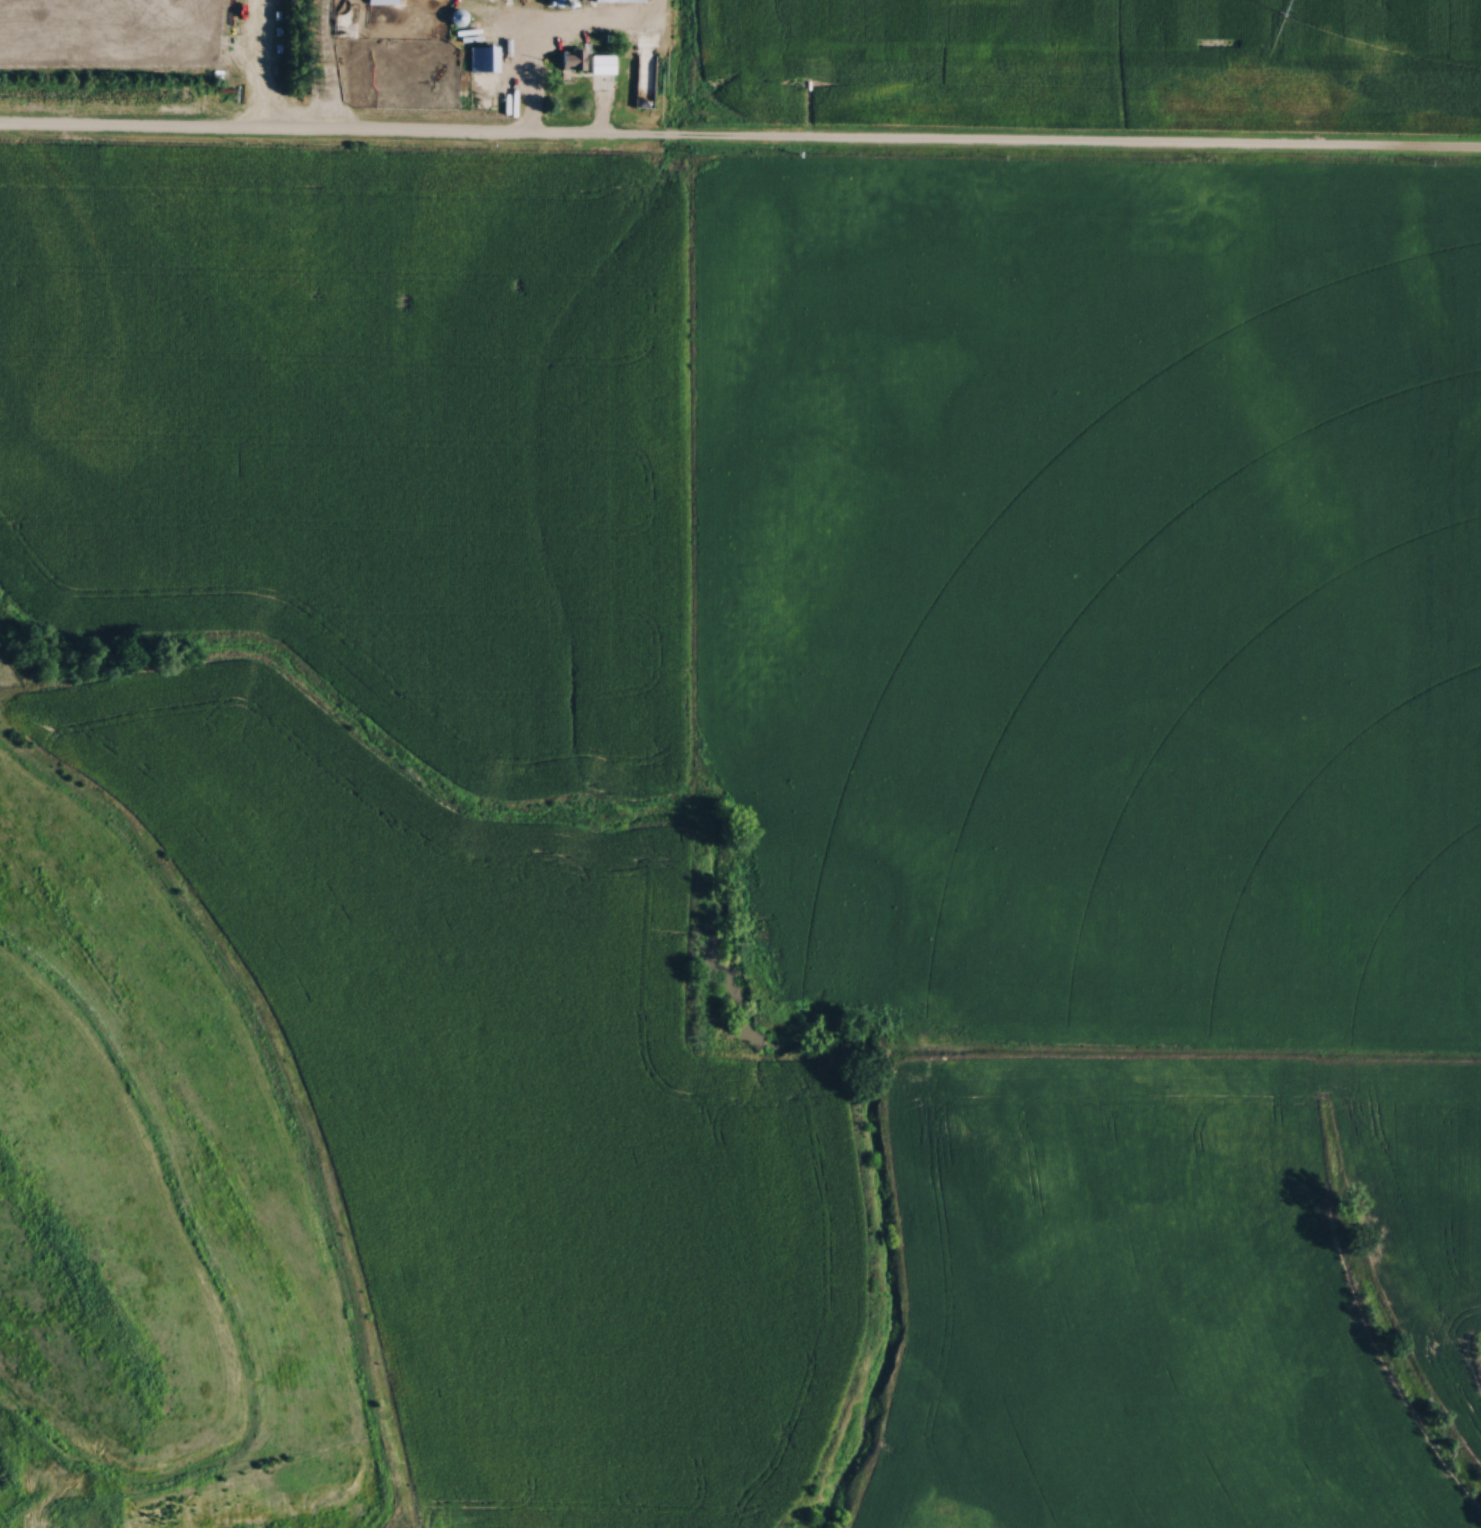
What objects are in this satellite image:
building: (383, 1)
building: (458, 17)
building: (586, 58)
building: (484, 59)
road: (534, 65)
building: (647, 72)
road: (740, 141)

